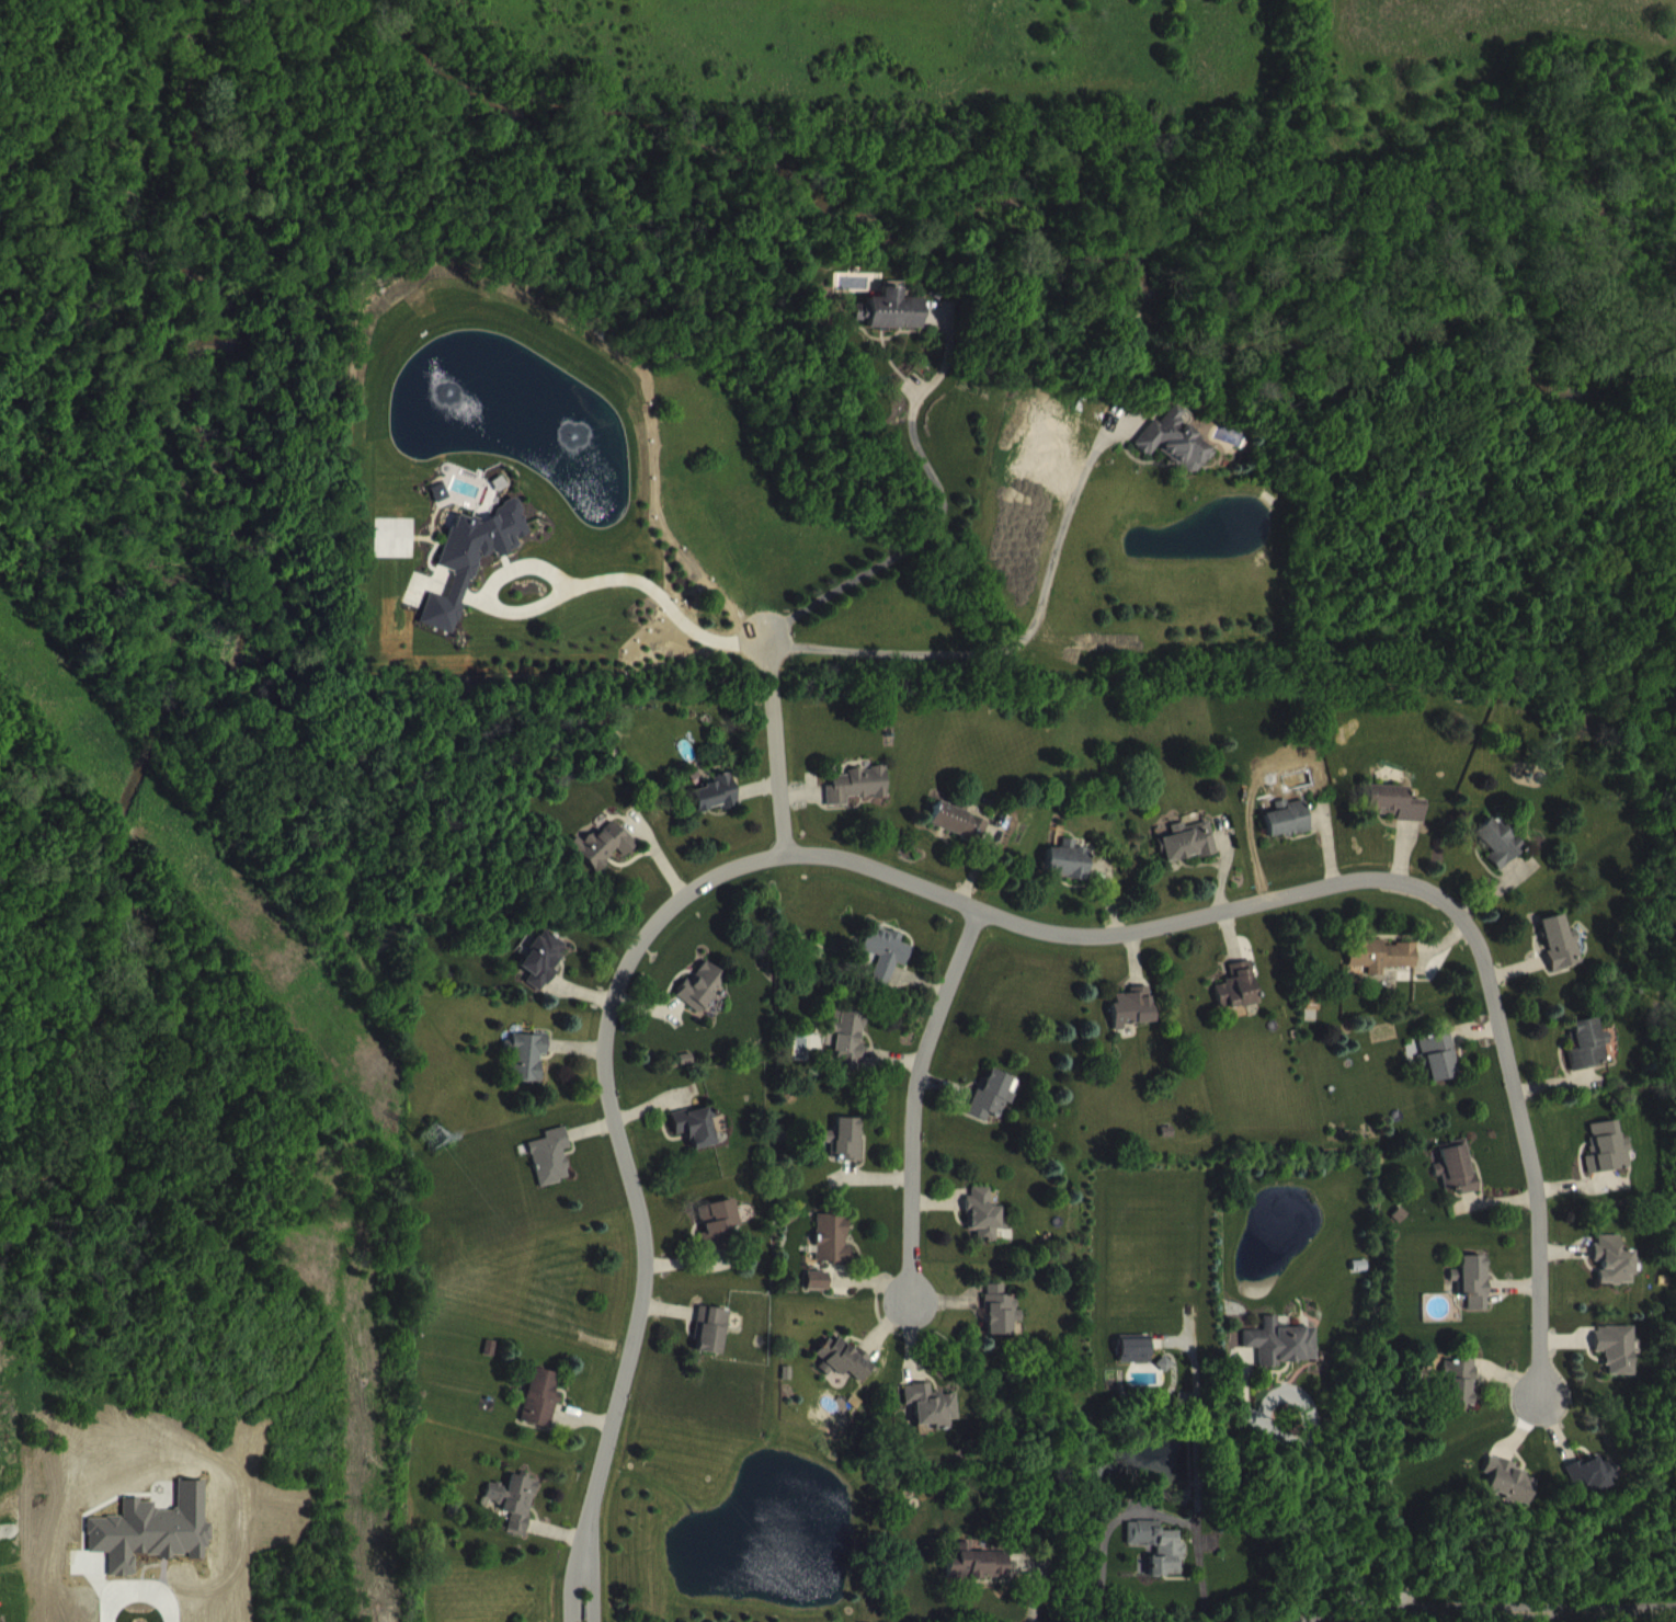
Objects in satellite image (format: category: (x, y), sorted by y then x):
building: (891, 306)
building: (898, 324)
building: (863, 327)
building: (1168, 437)
building: (1176, 457)
building: (436, 488)
road: (939, 506)
building: (443, 507)
building: (479, 535)
road: (591, 574)
road: (523, 599)
road: (1016, 639)
road: (774, 743)
building: (854, 781)
building: (712, 789)
building: (1387, 798)
building: (860, 801)
building: (719, 810)
building: (1285, 814)
building: (956, 816)
building: (1396, 819)
building: (1291, 834)
building: (1495, 836)
building: (961, 837)
building: (1185, 837)
building: (597, 842)
building: (1064, 856)
building: (1192, 857)
building: (1502, 858)
building: (605, 860)
building: (1071, 876)
road: (1109, 929)
building: (1557, 939)
building: (881, 947)
building: (1377, 950)
building: (535, 952)
building: (889, 967)
building: (1383, 971)
building: (545, 974)
building: (697, 982)
building: (1233, 982)
building: (705, 1003)
building: (1240, 1003)
building: (1130, 1004)
building: (1137, 1023)
building: (843, 1033)
building: (1584, 1040)
building: (1435, 1049)
building: (523, 1052)
building: (851, 1056)
building: (1592, 1060)
building: (990, 1092)
road: (915, 1099)
building: (996, 1112)
building: (691, 1122)
road: (1523, 1133)
power tower: (427, 1135)
building: (842, 1135)
building: (699, 1142)
building: (1603, 1144)
building: (547, 1152)
building: (848, 1154)
building: (1453, 1164)
building: (1610, 1164)
building: (554, 1173)
road: (639, 1193)
building: (980, 1211)
building: (716, 1220)
building: (828, 1234)
building: (720, 1238)
building: (836, 1255)
building: (1608, 1257)
building: (813, 1276)
building: (1469, 1277)
park: (550, 1284)
building: (821, 1297)
building: (996, 1306)
building: (707, 1325)
building: (1004, 1326)
road: (589, 1338)
building: (1276, 1338)
building: (715, 1345)
building: (1130, 1345)
building: (1611, 1345)
building: (840, 1355)
building: (1282, 1358)
building: (1138, 1364)
building: (847, 1375)
building: (1455, 1375)
building: (537, 1394)
building: (1462, 1397)
building: (926, 1401)
building: (544, 1415)
building: (934, 1421)
road: (1193, 1428)
road: (1311, 1444)
building: (1586, 1471)
building: (1505, 1476)
building: (32, 1481)
building: (1594, 1489)
building: (512, 1496)
building: (1512, 1496)
road: (1147, 1509)
building: (518, 1517)
building: (153, 1519)
building: (1154, 1542)
building: (972, 1557)
building: (1161, 1562)
building: (980, 1579)
road: (1485, 1610)

